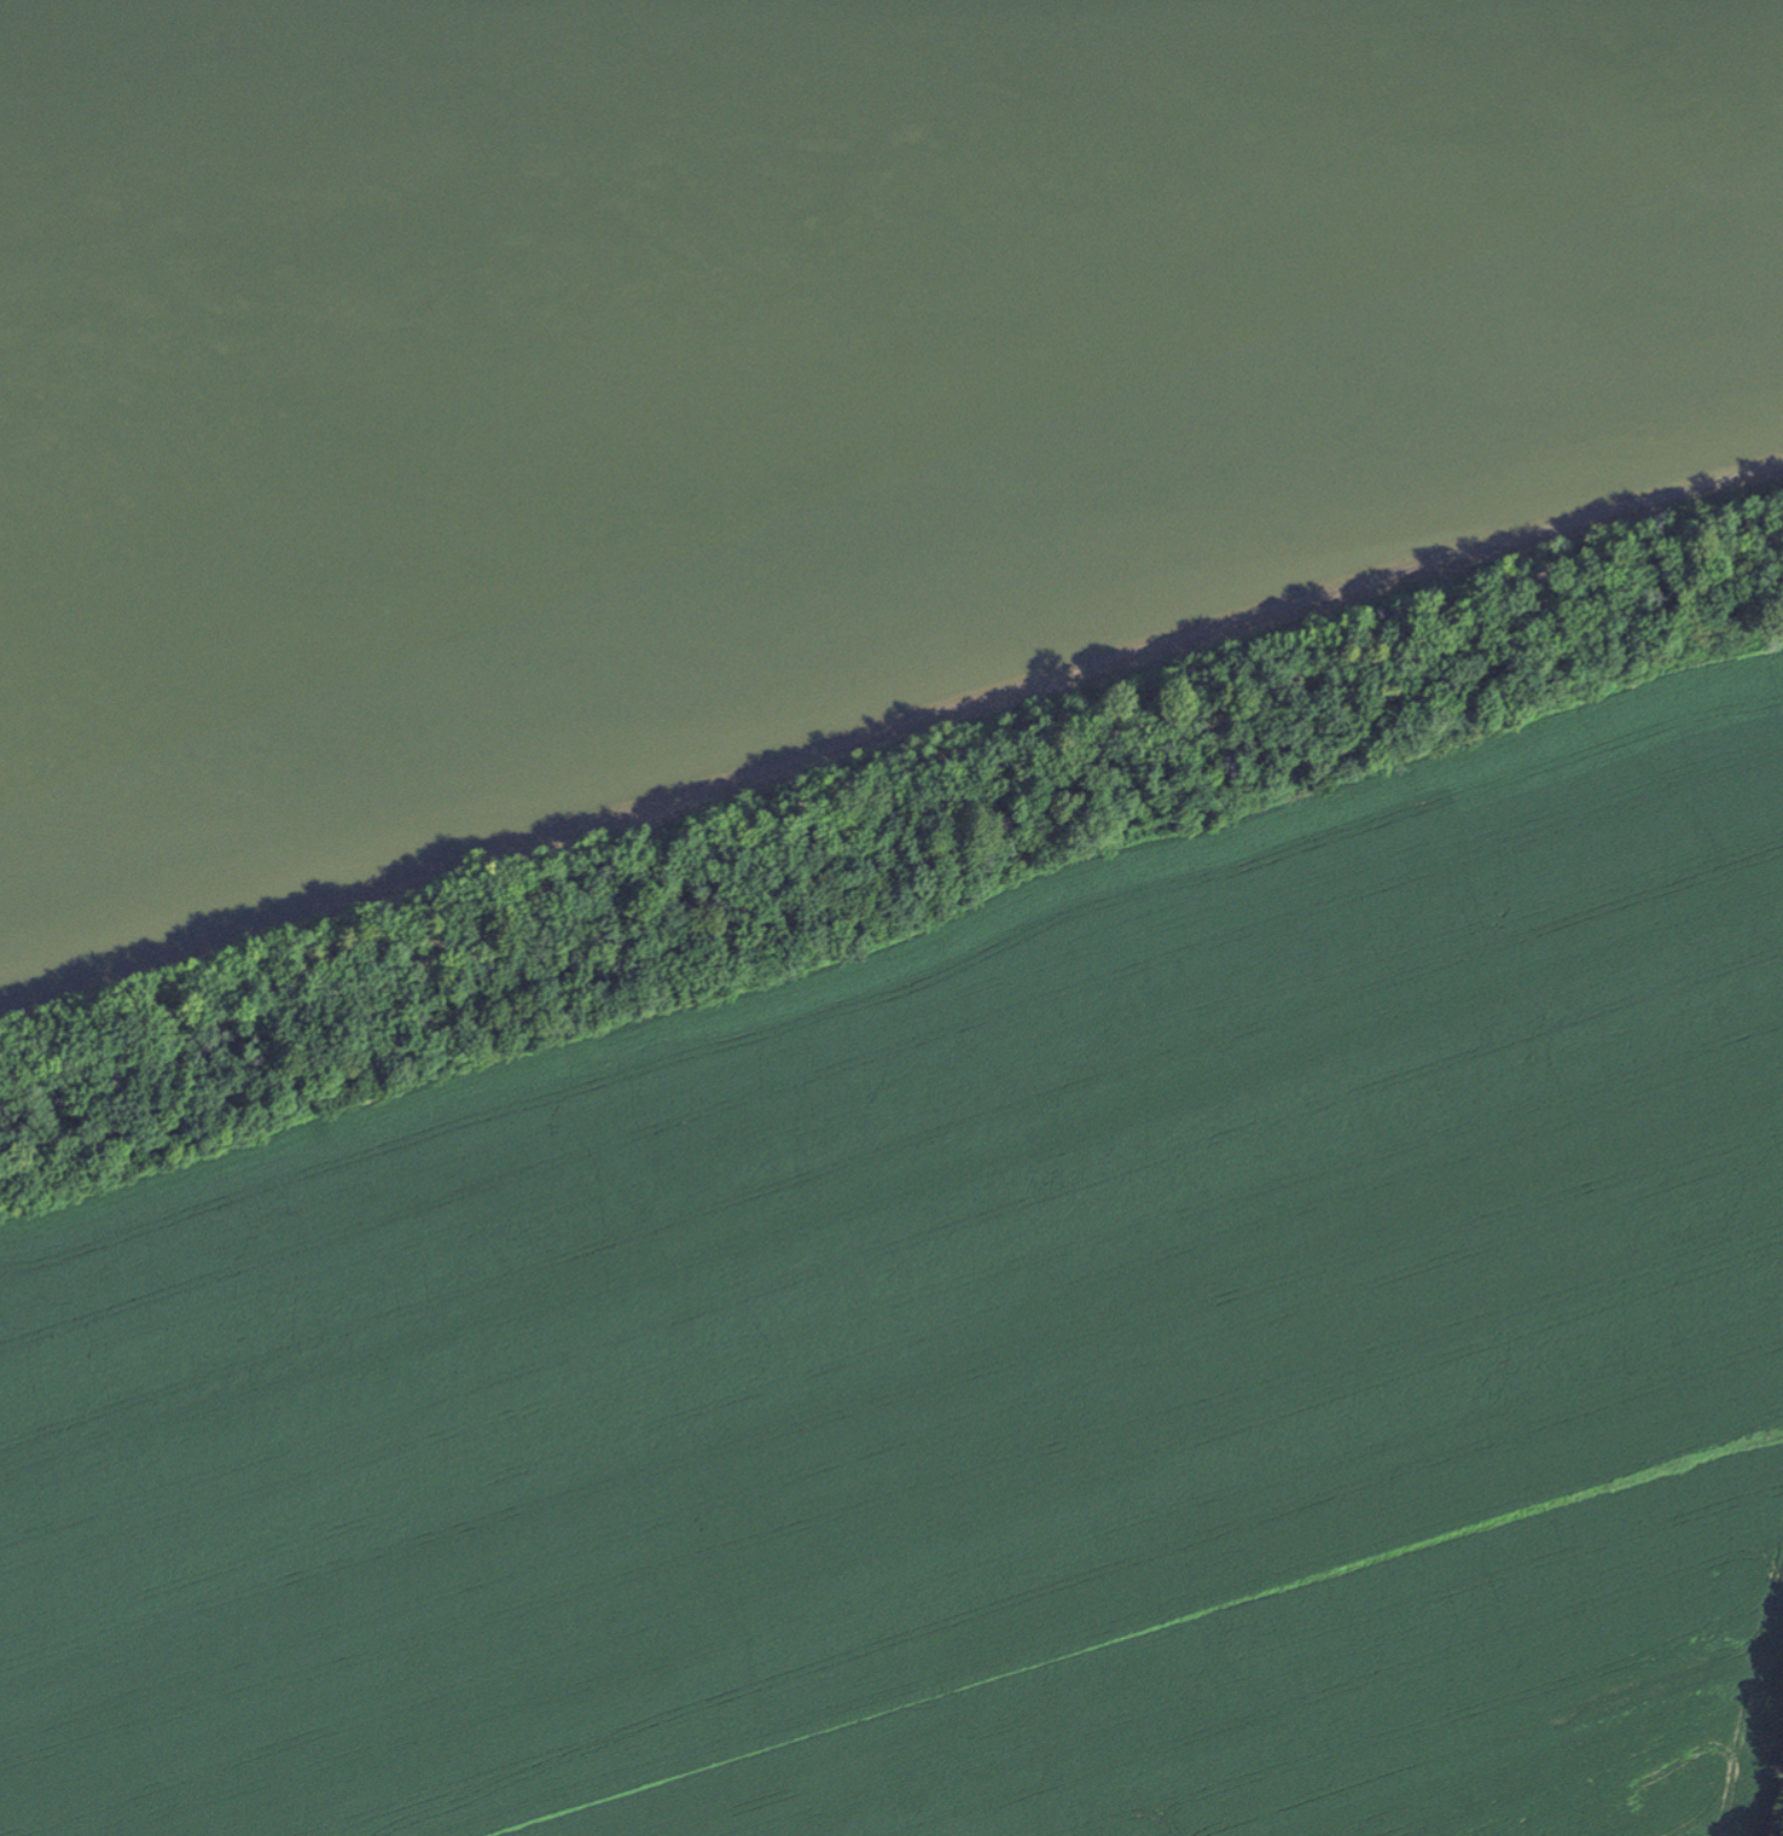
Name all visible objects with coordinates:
building: (539, 312)
building: (265, 343)

